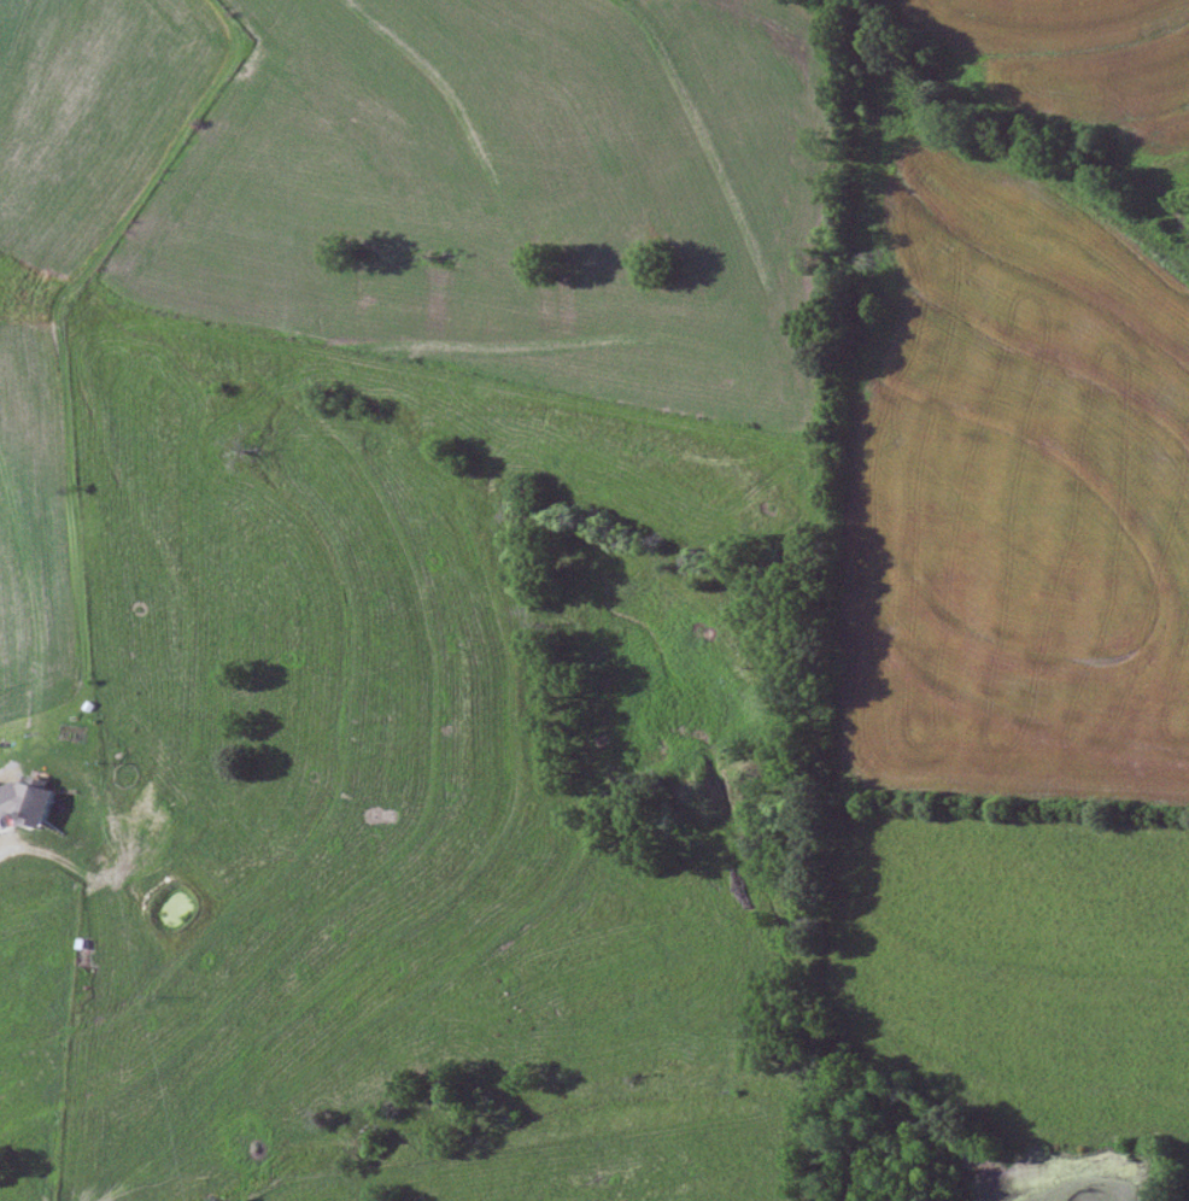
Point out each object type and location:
road: (2, 839)

